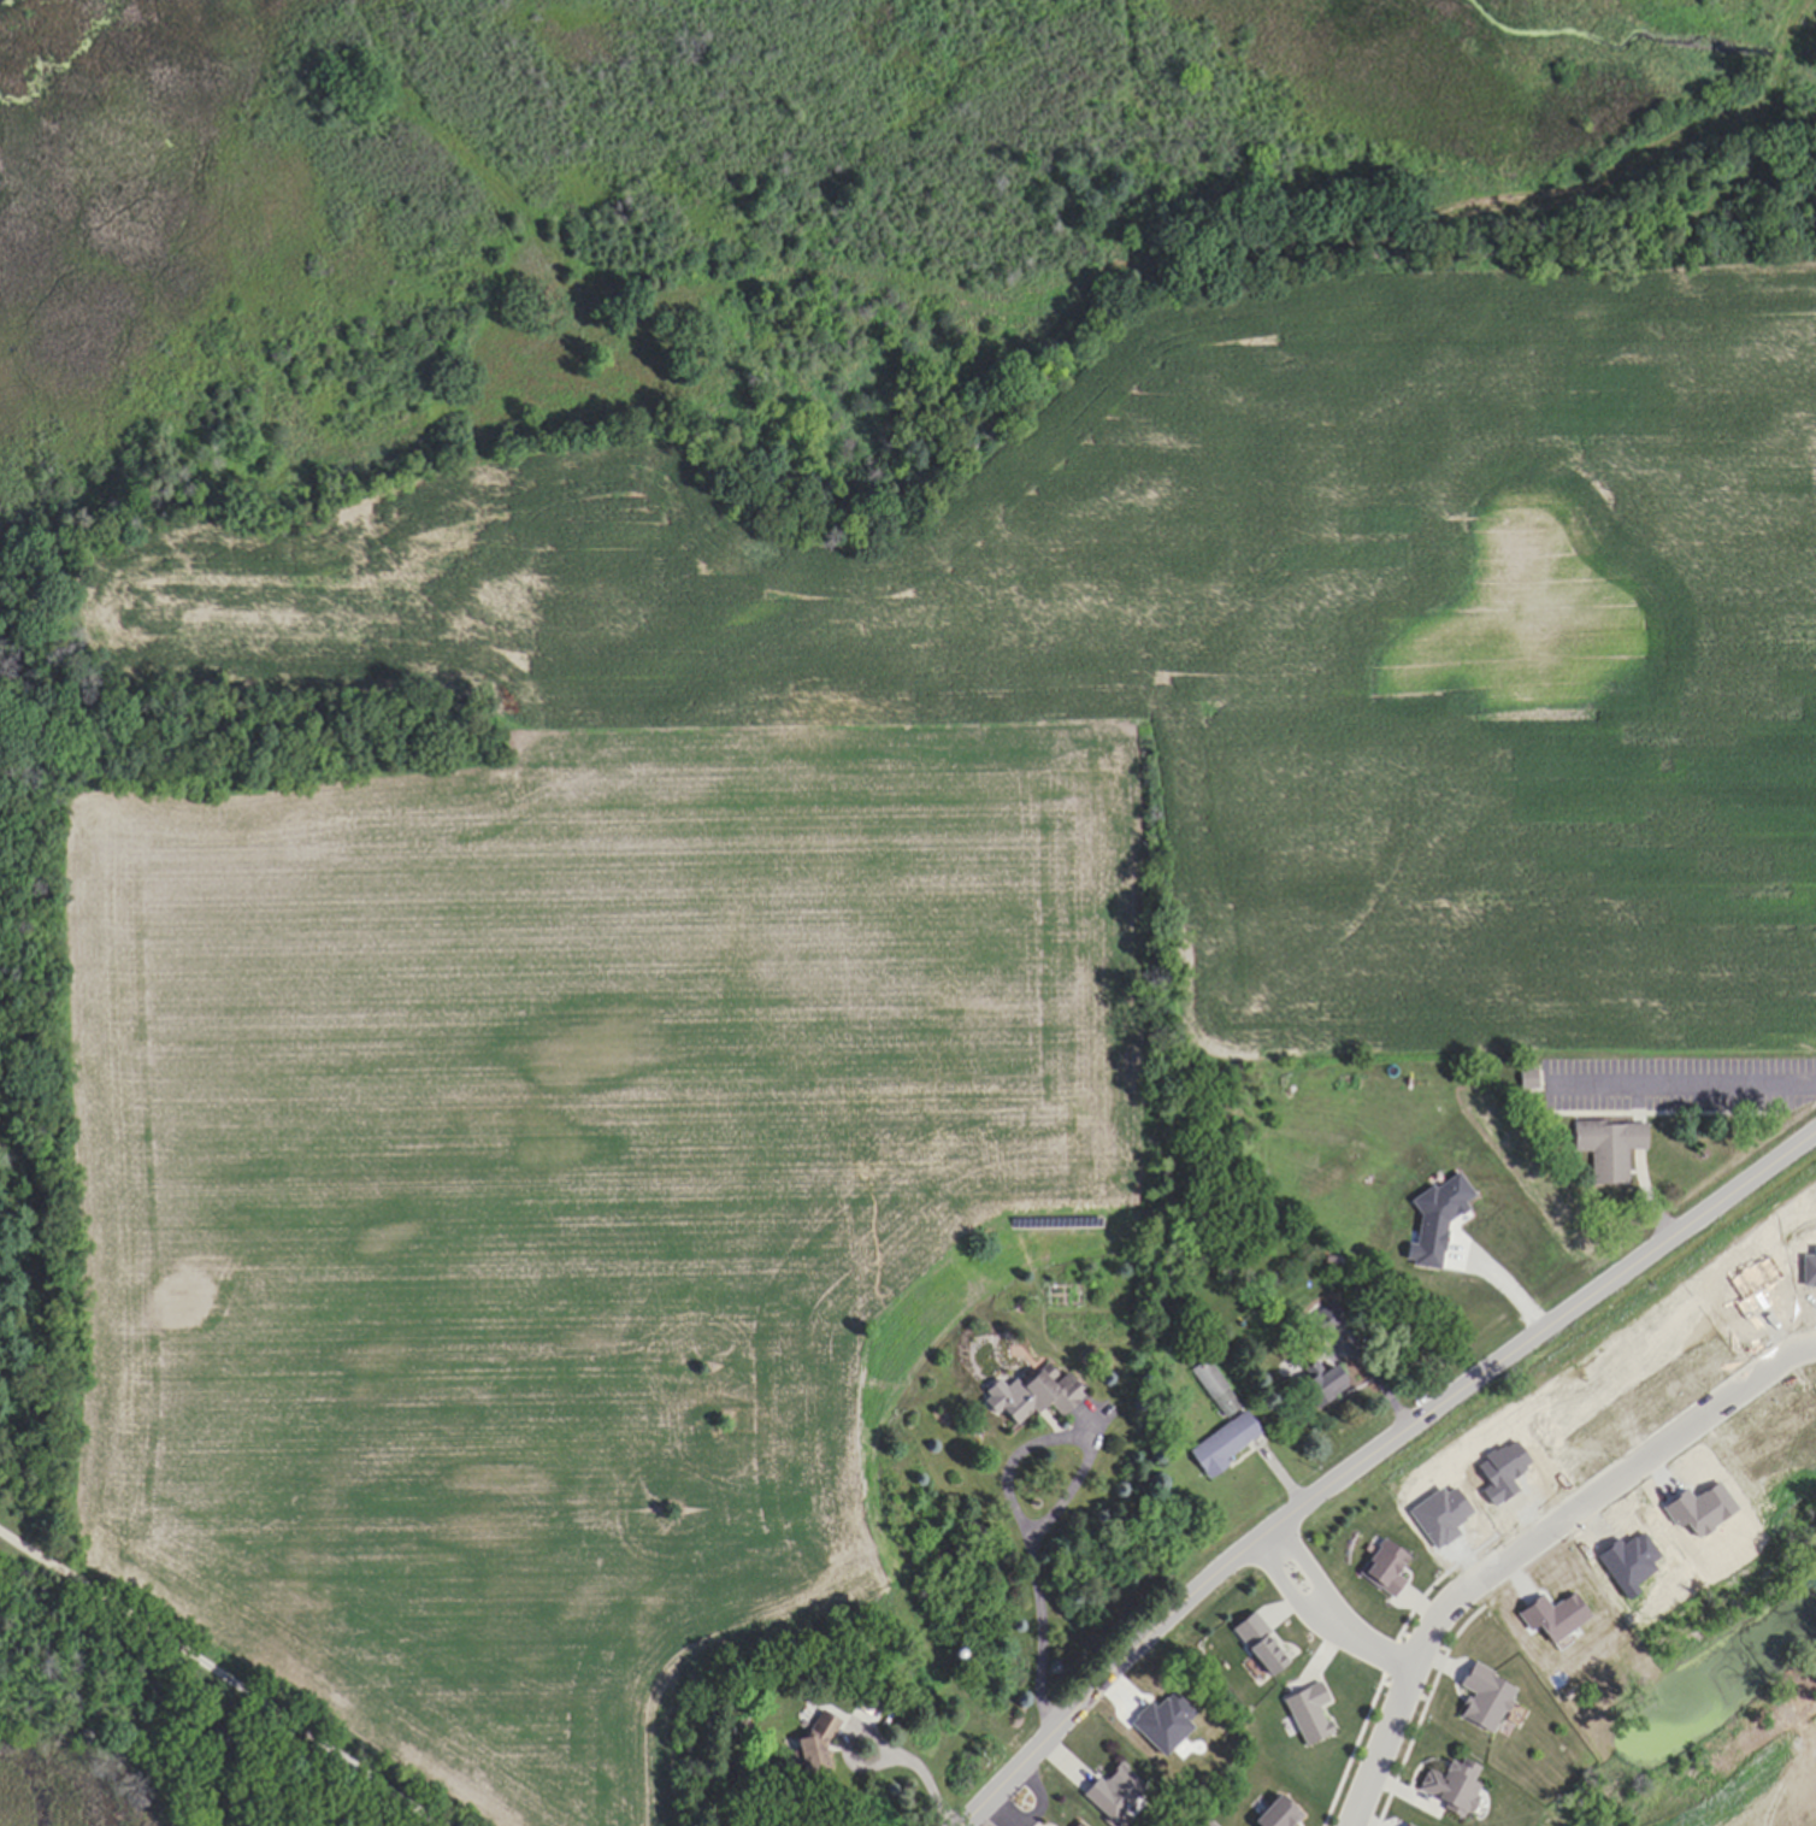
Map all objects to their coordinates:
road: (1693, 1085)
building: (1605, 1148)
road: (1500, 1282)
building: (1326, 1327)
building: (1319, 1385)
building: (1214, 1388)
building: (1038, 1395)
road: (1661, 1437)
road: (1370, 1457)
road: (1013, 1500)
road: (1314, 1578)
road: (1291, 1597)
road: (1376, 1654)
road: (1410, 1671)
road: (217, 1673)
building: (1480, 1700)
building: (812, 1749)
road: (918, 1767)
building: (1446, 1787)
building: (1109, 1793)
building: (1073, 1825)

